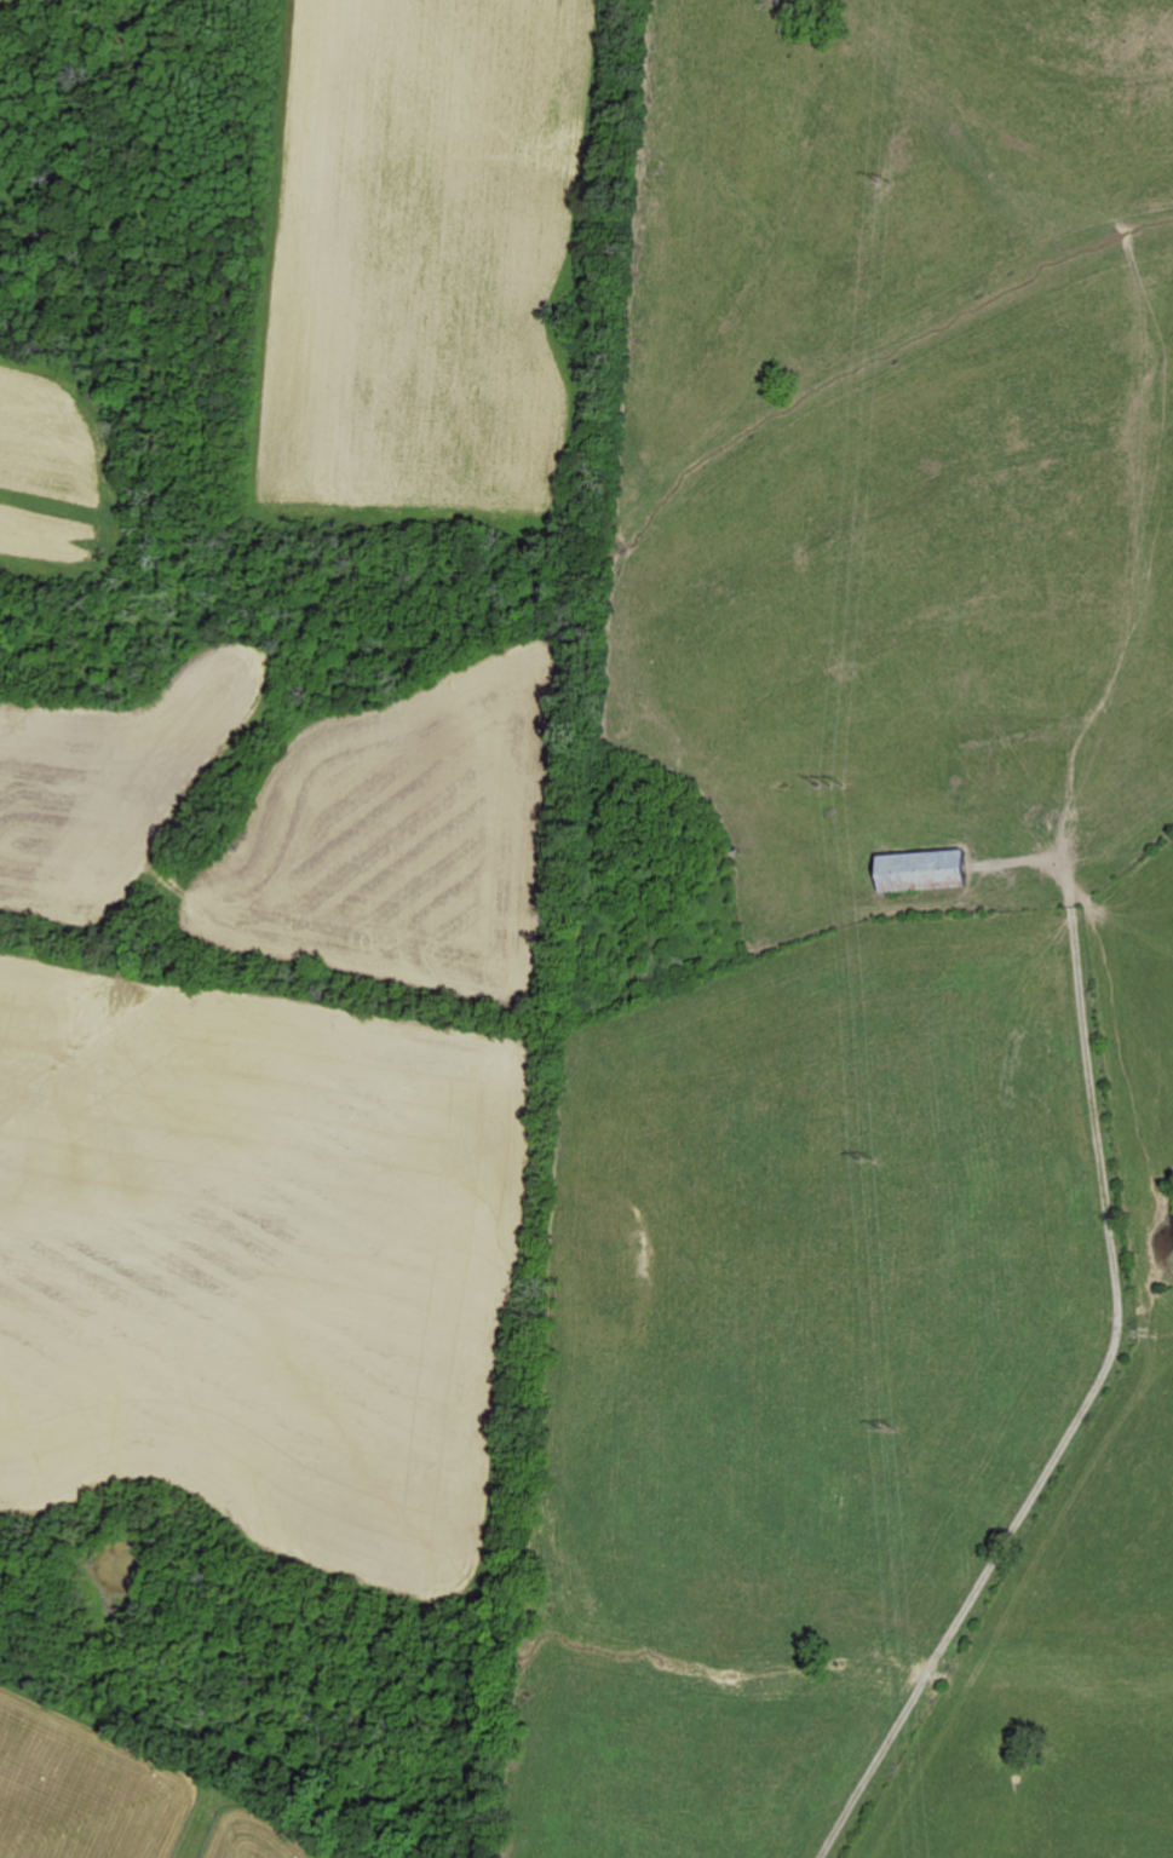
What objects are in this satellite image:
building: (912, 872)
road: (1115, 1345)

